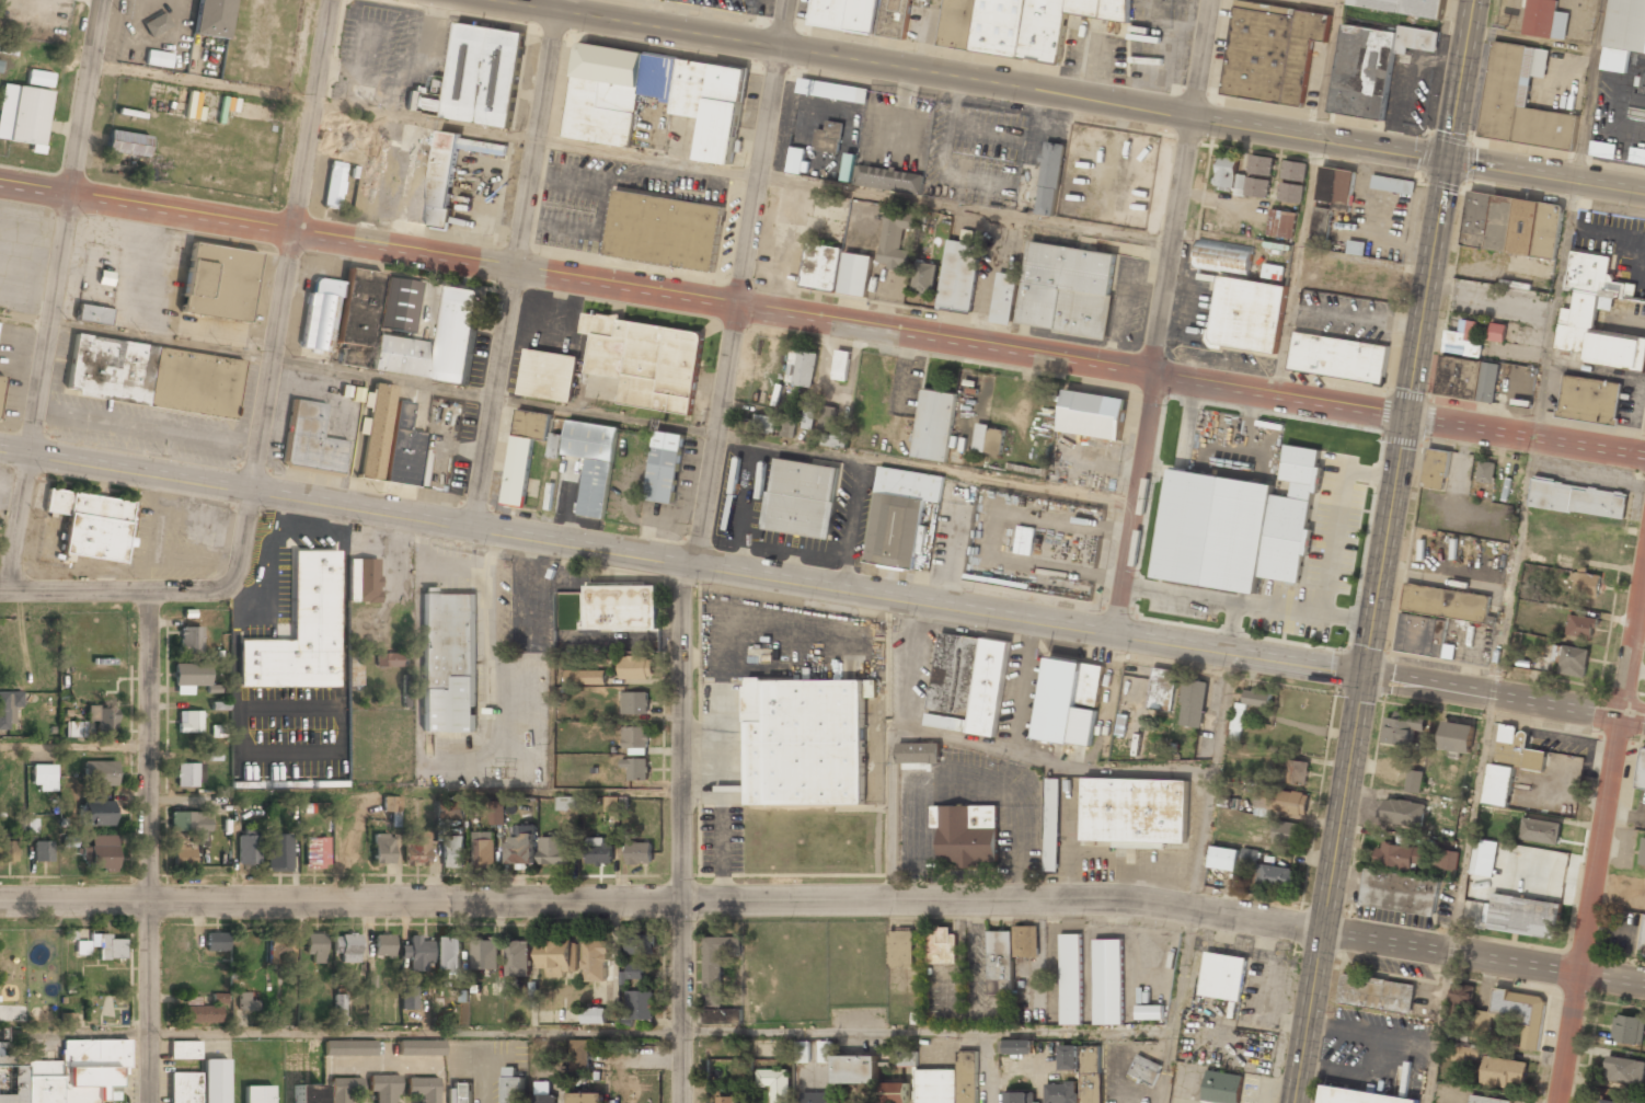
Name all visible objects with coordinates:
parking lot: (727, 4)
building: (1404, 7)
building: (863, 15)
building: (211, 19)
building: (1545, 20)
building: (1017, 25)
building: (156, 26)
building: (1624, 33)
parking lot: (391, 50)
building: (1272, 50)
building: (158, 60)
building: (0, 64)
building: (1371, 66)
building: (483, 74)
building: (39, 78)
building: (840, 92)
building: (358, 95)
road: (1061, 95)
building: (653, 96)
building: (1638, 97)
building: (1520, 99)
building: (23, 114)
building: (828, 138)
building: (127, 145)
building: (1602, 149)
building: (1637, 156)
building: (795, 161)
traffic signals: (1448, 161)
building: (1259, 165)
building: (1293, 170)
building: (419, 173)
building: (1229, 173)
building: (887, 180)
building: (1048, 180)
building: (334, 185)
building: (1335, 185)
building: (1393, 185)
building: (1256, 186)
building: (1290, 193)
building: (1280, 223)
building: (1320, 223)
building: (1511, 225)
building: (664, 230)
building: (895, 238)
road: (292, 245)
building: (1355, 248)
building: (1223, 257)
road: (519, 263)
building: (836, 271)
building: (1273, 271)
building: (959, 274)
building: (924, 277)
building: (105, 279)
building: (1374, 279)
road: (747, 280)
building: (219, 284)
building: (1067, 289)
road: (704, 296)
road: (57, 297)
building: (1004, 298)
building: (401, 307)
building: (92, 315)
road: (1161, 315)
building: (1246, 315)
building: (1597, 315)
building: (317, 317)
building: (357, 323)
building: (1503, 331)
building: (458, 336)
building: (403, 357)
building: (1338, 357)
building: (646, 361)
building: (840, 365)
building: (1465, 366)
building: (802, 368)
road: (359, 374)
building: (550, 376)
building: (153, 377)
building: (1, 386)
building: (1589, 400)
building: (1092, 415)
building: (808, 417)
traffic signals: (1407, 418)
building: (772, 425)
building: (934, 425)
building: (829, 429)
road: (1526, 437)
road: (1532, 437)
building: (310, 439)
building: (390, 440)
building: (988, 440)
building: (555, 445)
building: (525, 453)
building: (594, 462)
building: (666, 467)
building: (1436, 468)
building: (1486, 471)
building: (802, 498)
building: (1578, 498)
building: (899, 516)
building: (93, 525)
building: (1236, 526)
road: (1385, 551)
road: (682, 558)
building: (359, 571)
building: (1586, 584)
road: (164, 595)
building: (625, 607)
building: (1435, 616)
building: (1580, 625)
building: (301, 632)
building: (189, 641)
building: (389, 659)
building: (1572, 659)
building: (448, 663)
building: (636, 667)
building: (356, 670)
traffic signals: (1366, 673)
building: (191, 676)
building: (585, 677)
building: (968, 682)
building: (1162, 689)
road: (1505, 696)
building: (1069, 701)
building: (634, 703)
building: (1193, 703)
building: (219, 705)
building: (8, 709)
building: (102, 720)
building: (188, 722)
building: (1238, 723)
building: (1403, 727)
building: (74, 729)
building: (217, 732)
building: (1457, 736)
building: (635, 738)
building: (804, 742)
road: (74, 746)
building: (1517, 749)
building: (919, 752)
building: (635, 770)
building: (1296, 771)
building: (1642, 771)
building: (99, 773)
building: (186, 775)
building: (44, 778)
building: (1414, 781)
building: (1498, 784)
building: (1280, 801)
building: (567, 803)
building: (610, 803)
building: (391, 804)
building: (448, 811)
building: (1135, 811)
building: (497, 812)
building: (1404, 812)
building: (97, 814)
building: (184, 823)
building: (1050, 825)
building: (31, 826)
road: (681, 830)
building: (1541, 830)
building: (1286, 831)
building: (967, 835)
road: (1601, 837)
building: (521, 846)
road: (148, 849)
building: (416, 849)
building: (483, 849)
building: (8, 850)
building: (248, 850)
building: (382, 850)
building: (554, 851)
building: (600, 851)
building: (42, 852)
building: (452, 852)
building: (639, 852)
building: (1642, 853)
building: (279, 854)
building: (317, 854)
building: (1250, 854)
building: (102, 855)
building: (183, 855)
building: (1400, 855)
building: (1223, 858)
building: (1484, 858)
building: (1447, 859)
building: (1276, 876)
building: (1399, 893)
road: (1001, 898)
road: (340, 904)
building: (1523, 916)
building: (1643, 942)
building: (216, 943)
building: (942, 944)
building: (383, 945)
building: (641, 945)
building: (102, 947)
building: (900, 947)
building: (314, 949)
building: (347, 950)
building: (279, 951)
building: (485, 954)
building: (418, 955)
building: (448, 955)
building: (1008, 955)
road: (1482, 957)
building: (559, 958)
building: (517, 960)
building: (595, 961)
building: (716, 965)
building: (634, 972)
building: (1222, 976)
building: (1070, 979)
building: (1108, 981)
building: (1376, 993)
building: (1461, 993)
building: (219, 998)
building: (409, 1001)
building: (245, 1003)
building: (640, 1006)
building: (340, 1010)
building: (1149, 1012)
building: (1517, 1013)
building: (202, 1015)
building: (594, 1015)
building: (722, 1016)
building: (1629, 1029)
road: (901, 1032)
road: (341, 1034)
building: (1019, 1047)
building: (349, 1049)
building: (421, 1049)
building: (184, 1050)
building: (825, 1050)
building: (803, 1052)
building: (1464, 1053)
building: (579, 1055)
building: (906, 1059)
building: (1084, 1069)
building: (1624, 1069)
building: (855, 1070)
building: (1146, 1070)
building: (1503, 1071)
building: (65, 1073)
building: (951, 1082)
building: (775, 1083)
building: (200, 1084)
building: (1222, 1087)
building: (511, 1088)
building: (384, 1089)
building: (343, 1090)
building: (423, 1090)
building: (307, 1093)
building: (460, 1093)
building: (895, 1093)
building: (1060, 1093)
building: (258, 1094)
building: (1359, 1096)
building: (587, 1098)
building: (815, 1098)
building: (1017, 1098)
building: (543, 1099)
building: (728, 1100)
building: (1485, 1100)
building: (1610, 1101)

